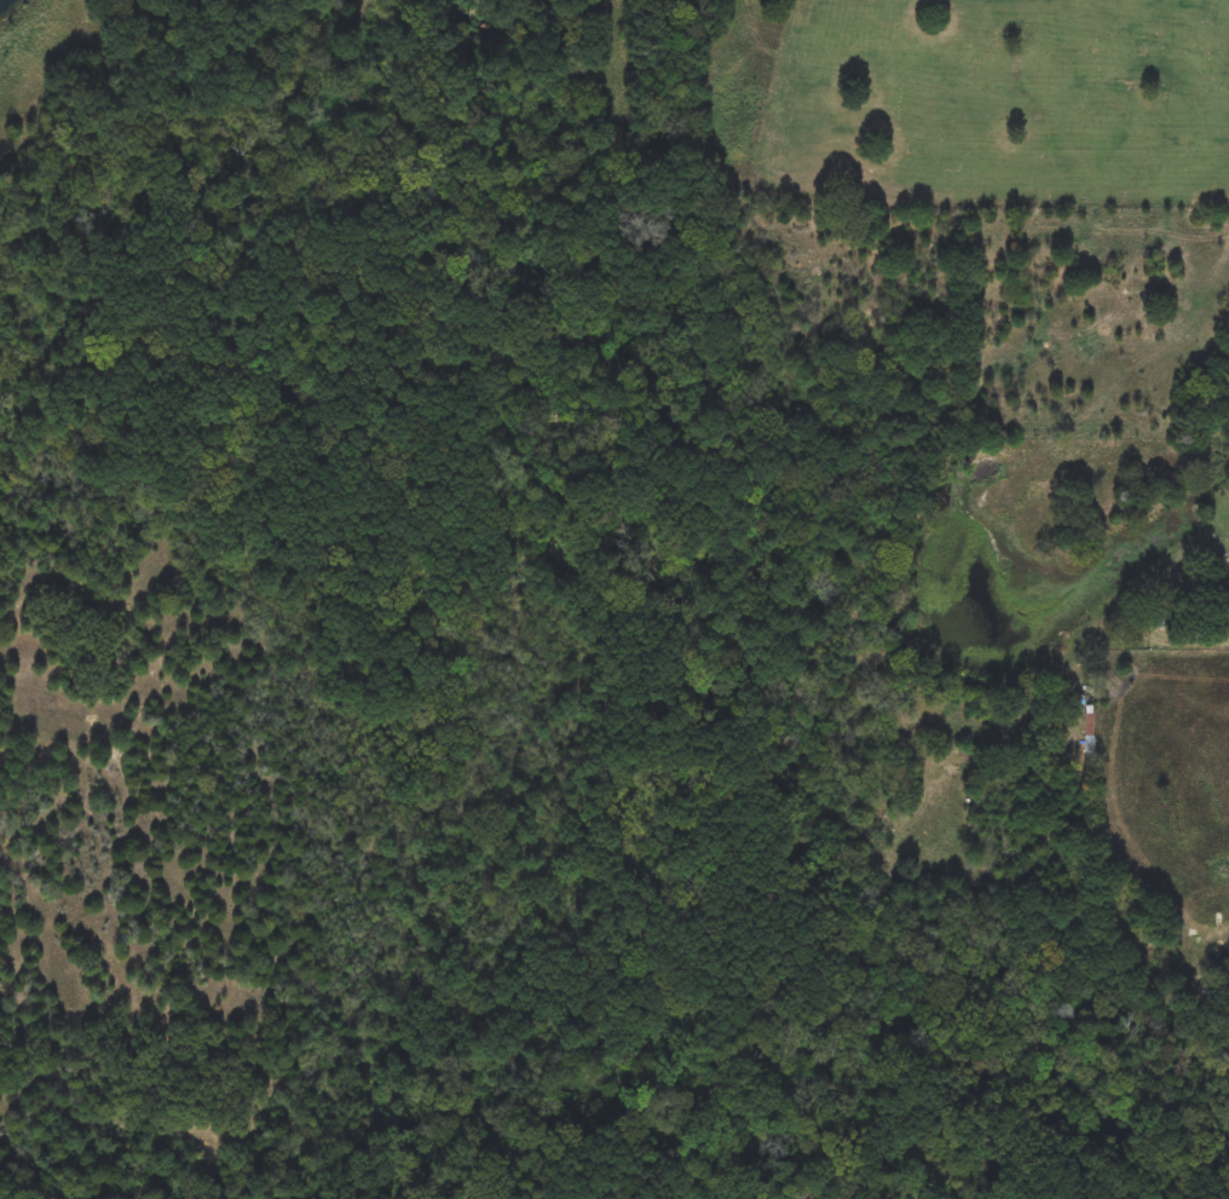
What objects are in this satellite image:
road: (1198, 639)

